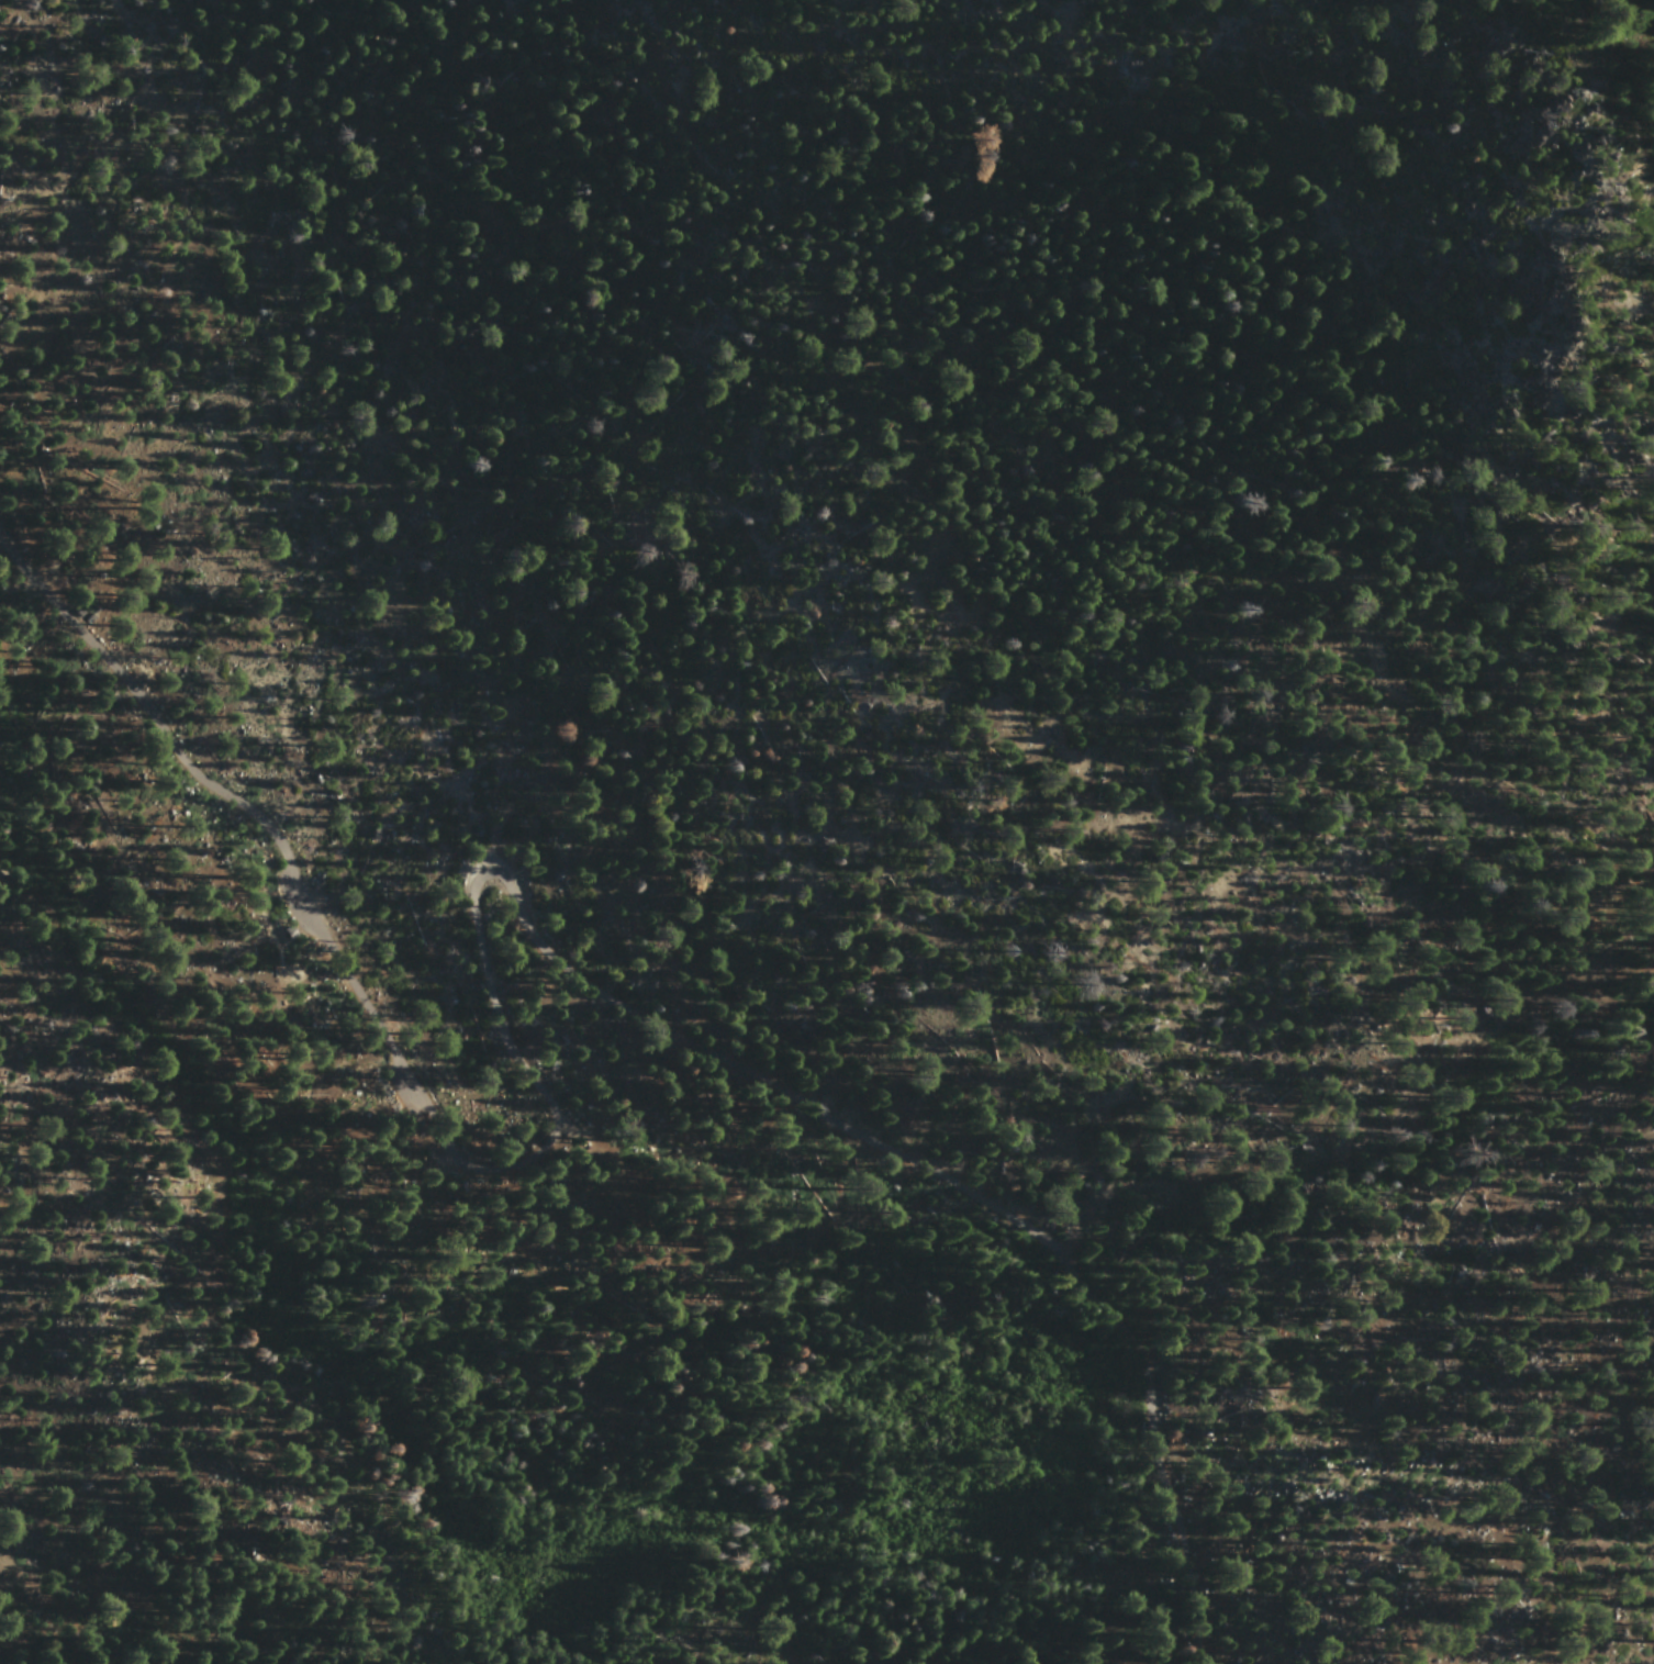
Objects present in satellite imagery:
road: (1298, 507)
road: (481, 881)
road: (1601, 1615)

